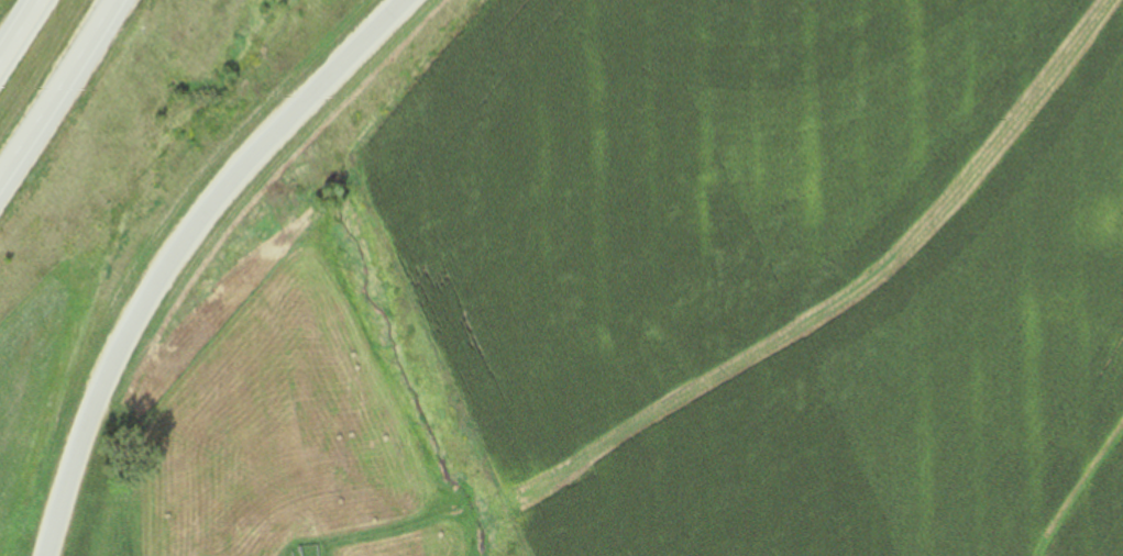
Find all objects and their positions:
road: (14, 25)
road: (62, 94)
road: (178, 247)

